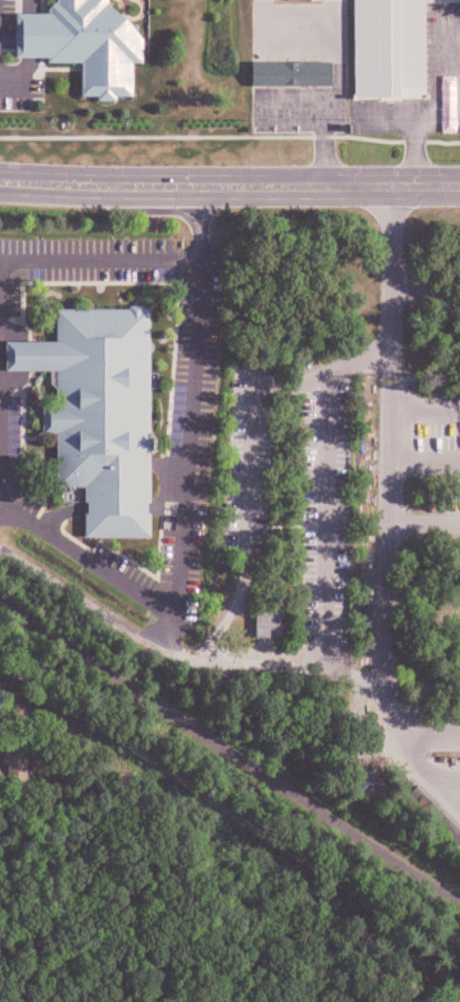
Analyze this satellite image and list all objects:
road: (31, 7)
parking lot: (7, 24)
road: (31, 36)
building: (83, 43)
building: (385, 49)
building: (160, 53)
parking lot: (443, 56)
road: (26, 65)
road: (451, 69)
building: (292, 74)
parking lot: (339, 74)
road: (340, 79)
road: (16, 84)
parking lot: (17, 88)
road: (293, 94)
road: (386, 118)
road: (430, 118)
road: (230, 137)
road: (417, 159)
road: (325, 160)
road: (28, 184)
road: (392, 186)
road: (191, 187)
road: (202, 219)
road: (74, 259)
road: (429, 330)
road: (10, 332)
road: (16, 356)
road: (11, 381)
road: (326, 401)
building: (94, 411)
road: (190, 437)
parking lot: (192, 443)
road: (253, 444)
parking lot: (13, 455)
road: (1, 462)
road: (113, 507)
road: (165, 507)
road: (60, 514)
road: (91, 559)
road: (387, 591)
road: (225, 625)
building: (264, 625)
road: (163, 632)
road: (244, 632)
road: (182, 657)
road: (427, 722)
road: (230, 752)
building: (432, 815)
road: (226, 836)

